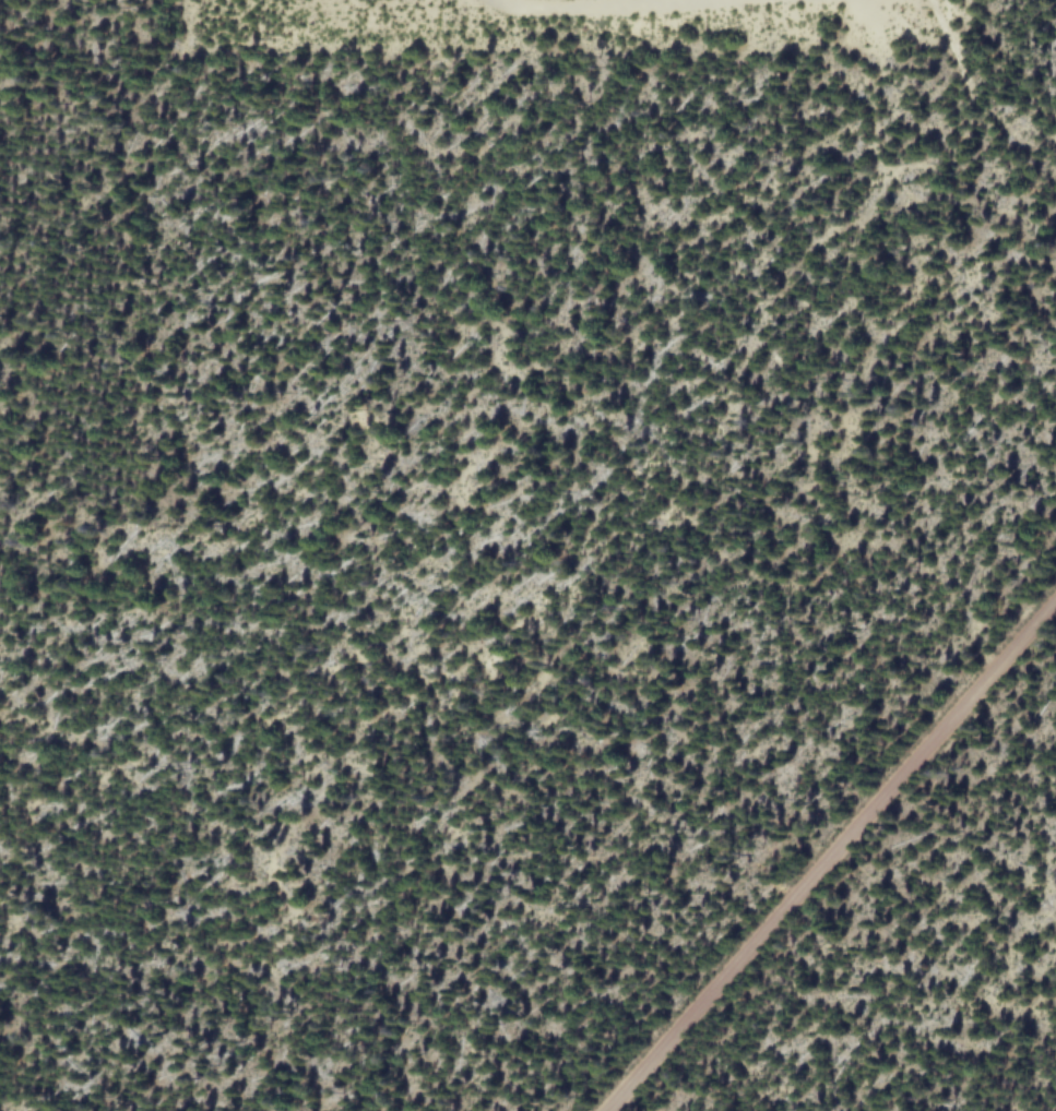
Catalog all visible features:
road: (831, 855)

